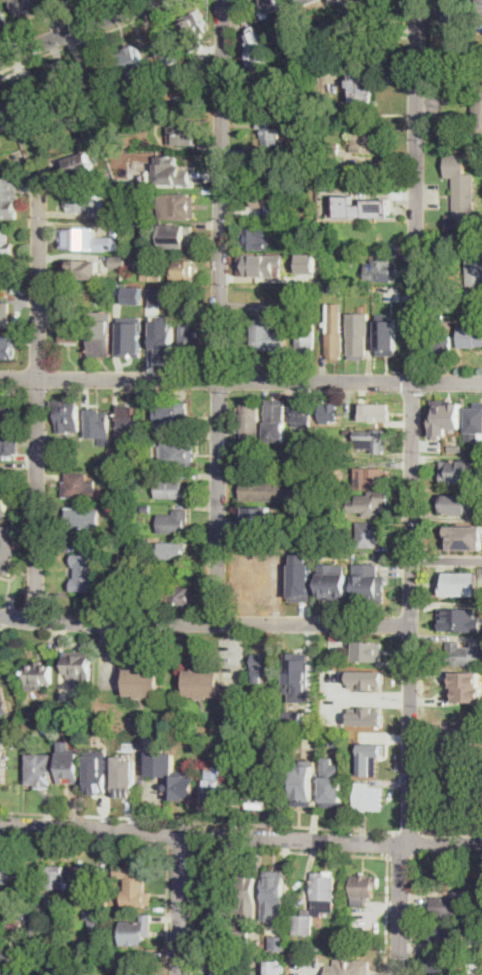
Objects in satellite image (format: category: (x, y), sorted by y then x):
building: (69, 0)
building: (335, 0)
building: (59, 1)
building: (352, 1)
building: (304, 2)
building: (384, 2)
building: (454, 5)
building: (25, 6)
building: (269, 7)
building: (386, 17)
building: (3, 19)
building: (195, 23)
road: (76, 28)
road: (96, 35)
building: (196, 38)
building: (168, 49)
building: (257, 50)
building: (475, 51)
building: (134, 72)
building: (98, 73)
building: (362, 83)
building: (178, 86)
building: (63, 90)
building: (178, 97)
building: (477, 103)
building: (25, 106)
building: (142, 112)
building: (2, 114)
building: (272, 127)
building: (182, 132)
building: (363, 142)
building: (95, 147)
building: (332, 150)
building: (73, 152)
building: (79, 165)
building: (117, 169)
building: (275, 170)
building: (171, 172)
building: (8, 197)
building: (461, 199)
building: (83, 200)
building: (264, 200)
building: (356, 204)
building: (178, 207)
building: (120, 209)
building: (309, 215)
building: (136, 223)
building: (120, 228)
building: (178, 236)
building: (86, 239)
building: (254, 239)
building: (5, 244)
building: (81, 255)
building: (118, 260)
building: (306, 262)
building: (264, 264)
building: (132, 265)
building: (86, 267)
building: (474, 268)
building: (186, 271)
building: (382, 271)
building: (9, 273)
building: (152, 277)
building: (335, 289)
building: (369, 289)
building: (134, 294)
building: (448, 305)
building: (294, 308)
road: (220, 311)
building: (5, 315)
building: (170, 315)
building: (69, 328)
building: (101, 334)
building: (358, 334)
building: (386, 334)
building: (131, 336)
building: (268, 336)
building: (470, 336)
building: (189, 338)
building: (334, 338)
building: (306, 341)
building: (162, 342)
building: (440, 343)
building: (9, 351)
road: (241, 377)
road: (37, 393)
building: (329, 410)
building: (301, 412)
building: (275, 413)
building: (374, 413)
building: (6, 414)
building: (67, 415)
building: (180, 415)
building: (446, 416)
building: (128, 419)
building: (250, 420)
building: (474, 421)
building: (98, 425)
building: (372, 440)
building: (9, 443)
building: (456, 445)
building: (177, 455)
building: (115, 458)
building: (321, 463)
building: (104, 464)
building: (2, 472)
building: (451, 474)
building: (145, 477)
building: (310, 478)
building: (372, 478)
building: (80, 486)
road: (411, 488)
building: (172, 490)
building: (267, 490)
building: (450, 501)
building: (4, 504)
building: (373, 504)
building: (145, 507)
building: (83, 517)
building: (256, 519)
building: (174, 522)
building: (369, 534)
building: (463, 537)
building: (319, 541)
building: (280, 543)
building: (6, 551)
building: (172, 551)
road: (446, 559)
building: (85, 572)
building: (279, 573)
building: (255, 581)
building: (334, 581)
building: (461, 581)
building: (369, 583)
building: (124, 584)
building: (301, 586)
building: (180, 597)
building: (460, 618)
road: (204, 622)
road: (6, 623)
park: (10, 646)
building: (368, 652)
building: (464, 655)
building: (332, 657)
building: (79, 665)
building: (262, 666)
building: (297, 675)
building: (39, 677)
building: (465, 678)
building: (366, 681)
building: (142, 682)
building: (202, 683)
building: (468, 693)
building: (3, 699)
building: (32, 715)
building: (365, 715)
building: (293, 717)
building: (103, 730)
building: (338, 738)
building: (370, 757)
building: (69, 763)
building: (2, 767)
park: (451, 769)
building: (40, 770)
building: (105, 773)
building: (125, 776)
building: (171, 777)
building: (303, 782)
building: (333, 783)
building: (214, 785)
building: (259, 792)
building: (369, 798)
road: (197, 819)
road: (451, 830)
road: (408, 831)
road: (240, 836)
road: (149, 842)
road: (417, 842)
road: (392, 843)
road: (180, 844)
road: (290, 851)
road: (401, 855)
building: (445, 873)
building: (7, 874)
building: (55, 877)
building: (85, 878)
building: (259, 883)
building: (135, 885)
building: (363, 889)
building: (218, 890)
building: (275, 894)
building: (479, 895)
building: (317, 903)
road: (180, 904)
building: (444, 907)
road: (192, 910)
road: (386, 914)
road: (412, 915)
building: (96, 920)
building: (16, 925)
parking lot: (368, 926)
building: (137, 931)
building: (478, 931)
building: (445, 935)
building: (242, 936)
building: (43, 941)
building: (276, 942)
building: (316, 949)
building: (12, 956)
building: (132, 963)
building: (475, 965)
building: (442, 966)
building: (226, 967)
building: (350, 967)
building: (275, 968)

